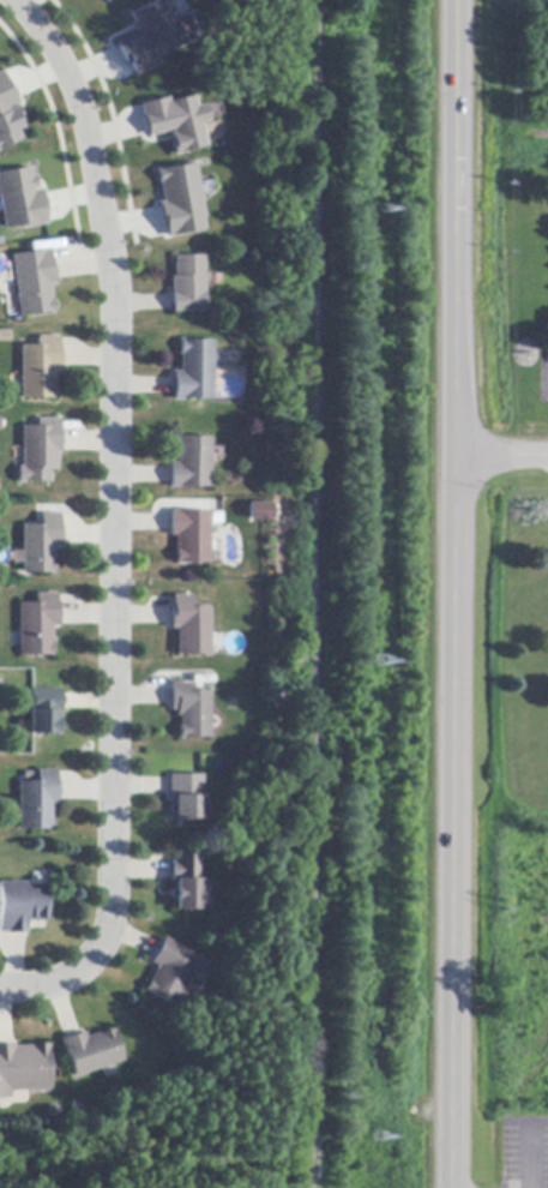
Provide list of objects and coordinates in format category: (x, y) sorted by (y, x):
building: (147, 35)
building: (7, 113)
building: (174, 119)
building: (20, 197)
building: (177, 198)
power tower: (383, 211)
building: (35, 282)
building: (187, 284)
building: (40, 368)
building: (193, 371)
building: (40, 451)
road: (499, 461)
building: (192, 463)
building: (259, 509)
road: (112, 521)
building: (191, 536)
building: (41, 545)
road: (451, 593)
railway: (314, 594)
building: (38, 625)
building: (189, 626)
power tower: (380, 661)
building: (191, 710)
building: (44, 712)
building: (185, 798)
building: (37, 802)
building: (185, 881)
building: (20, 906)
building: (169, 972)
building: (90, 1052)
building: (23, 1069)
power tower: (379, 1138)
road: (529, 1174)

